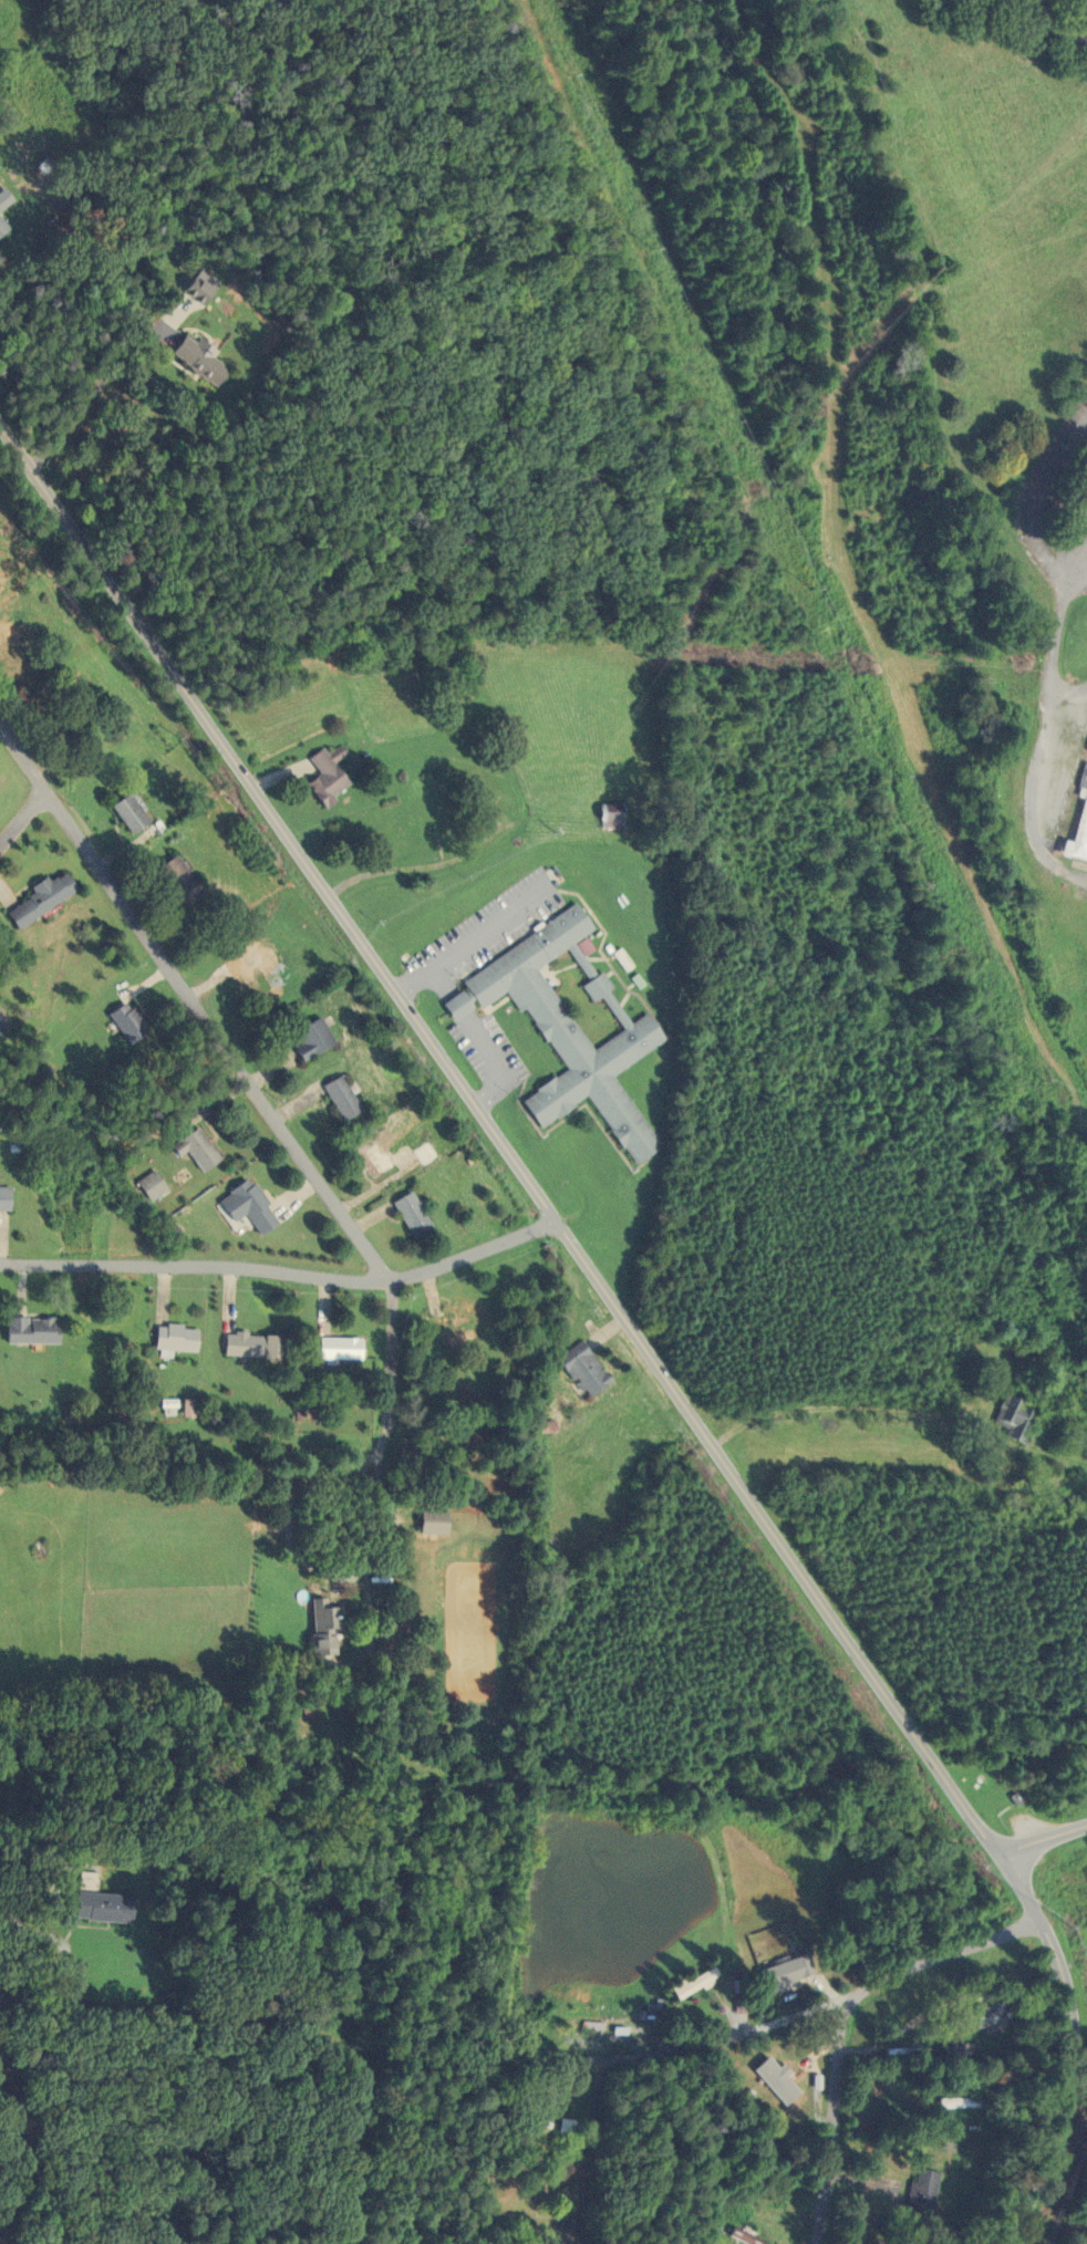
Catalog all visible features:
building: (1085, 1)
building: (2, 198)
building: (1, 228)
building: (189, 288)
building: (193, 359)
road: (1072, 580)
road: (1050, 646)
building: (6, 659)
building: (62, 684)
road: (1064, 693)
building: (38, 714)
building: (323, 775)
building: (123, 813)
road: (20, 814)
building: (605, 815)
building: (1085, 833)
building: (172, 880)
building: (35, 898)
road: (490, 927)
road: (354, 937)
road: (427, 968)
building: (256, 973)
road: (191, 1002)
road: (458, 1005)
building: (122, 1021)
building: (569, 1027)
building: (309, 1039)
road: (498, 1064)
building: (338, 1098)
building: (193, 1149)
building: (422, 1153)
building: (370, 1157)
building: (146, 1186)
building: (1, 1198)
building: (244, 1206)
building: (408, 1214)
road: (281, 1270)
building: (452, 1320)
building: (27, 1330)
building: (170, 1338)
building: (247, 1346)
building: (334, 1349)
road: (386, 1365)
building: (580, 1370)
building: (1008, 1419)
building: (428, 1521)
road: (312, 1563)
building: (317, 1627)
road: (972, 1820)
road: (1041, 1838)
building: (82, 1876)
building: (95, 1905)
building: (781, 1973)
building: (693, 1984)
building: (985, 2015)
road: (193, 2016)
building: (573, 2024)
road: (760, 2033)
building: (953, 2053)
building: (774, 2071)
building: (959, 2102)
building: (526, 2119)
road: (834, 2121)
road: (377, 2143)
road: (38, 2161)
building: (921, 2190)
building: (746, 2236)
building: (866, 2243)

